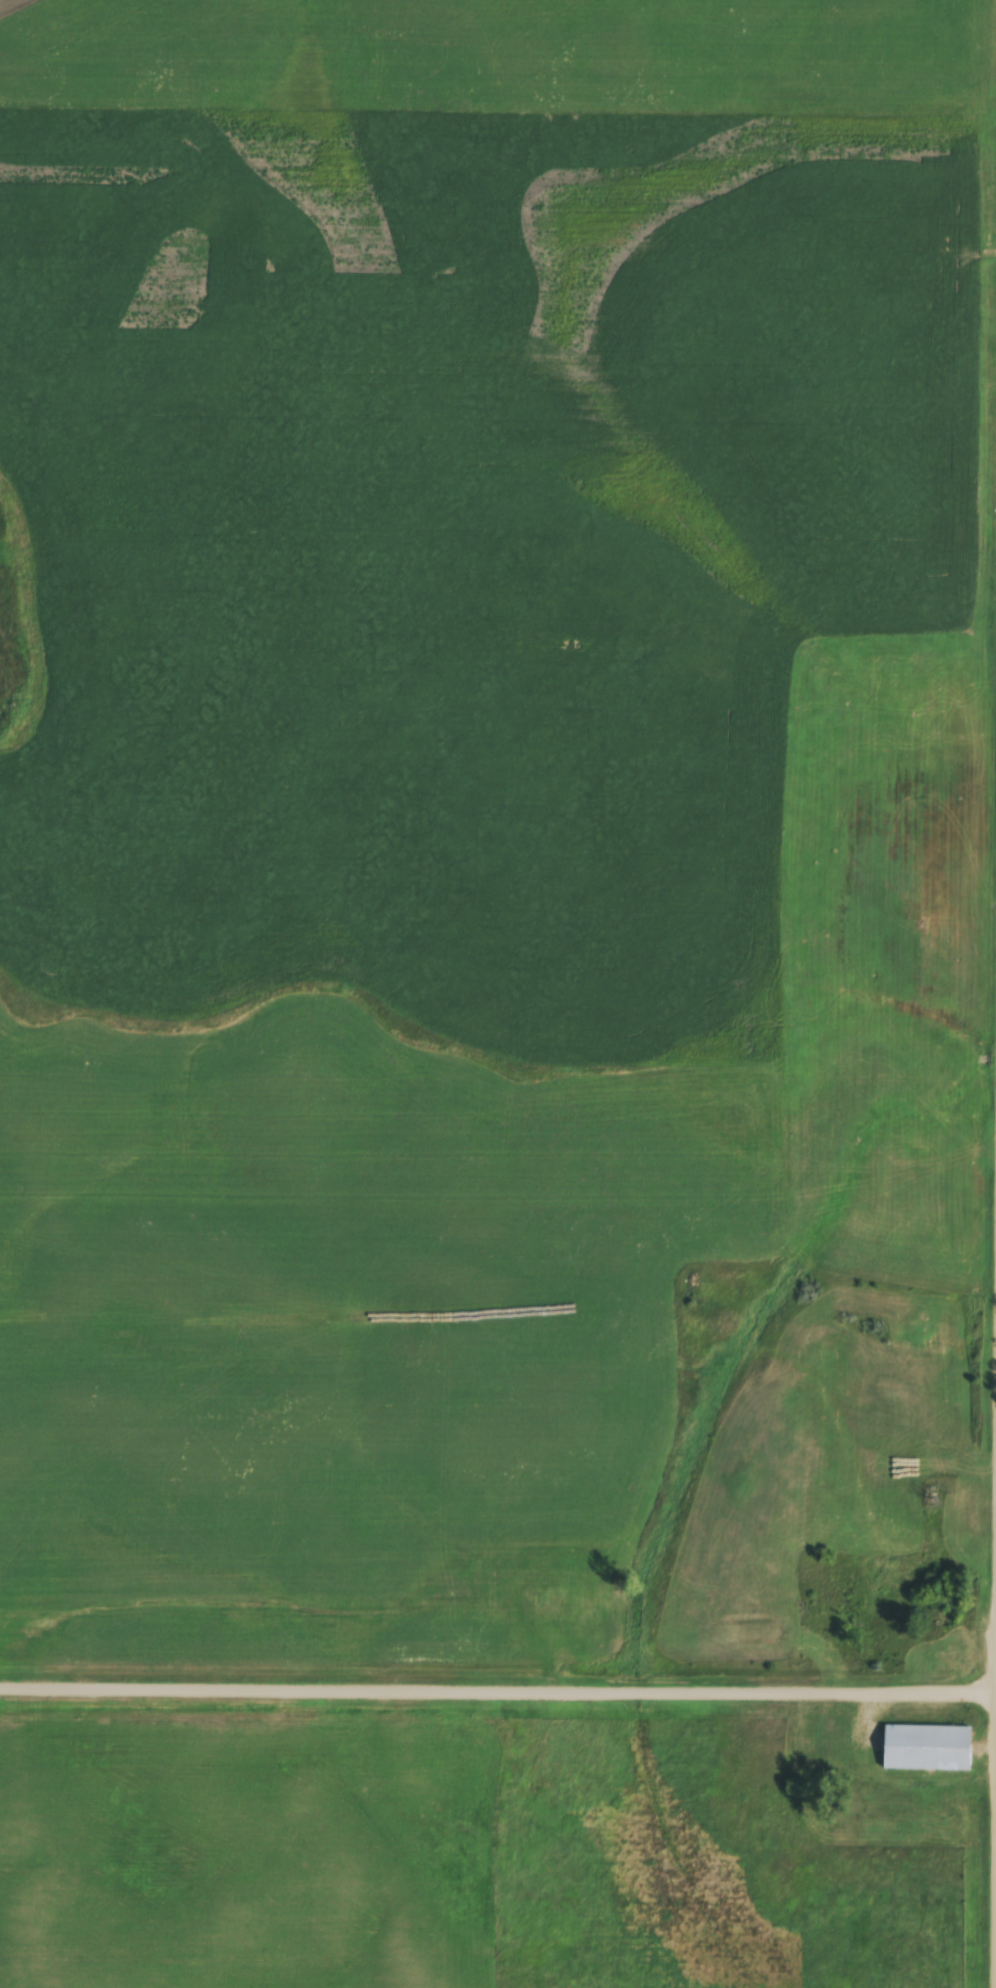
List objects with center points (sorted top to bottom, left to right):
road: (497, 1688)
building: (928, 1749)

